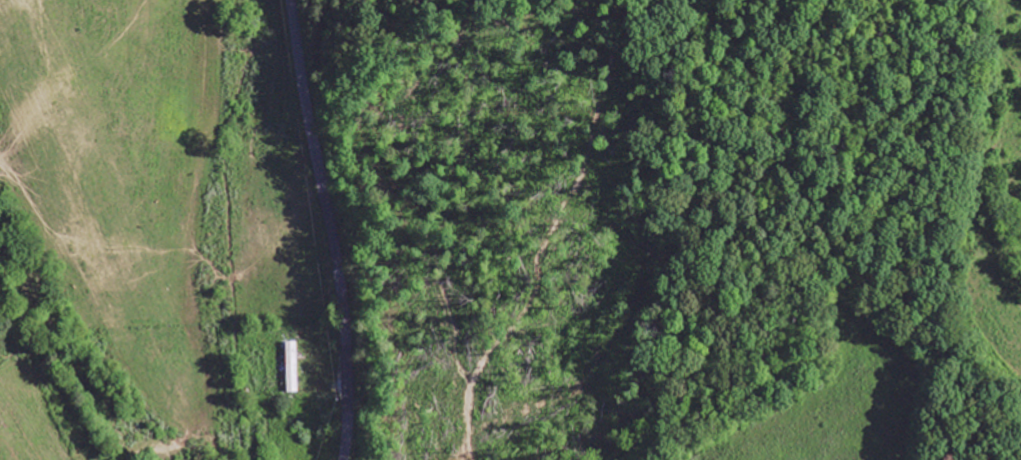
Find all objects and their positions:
road: (323, 229)
building: (292, 368)

